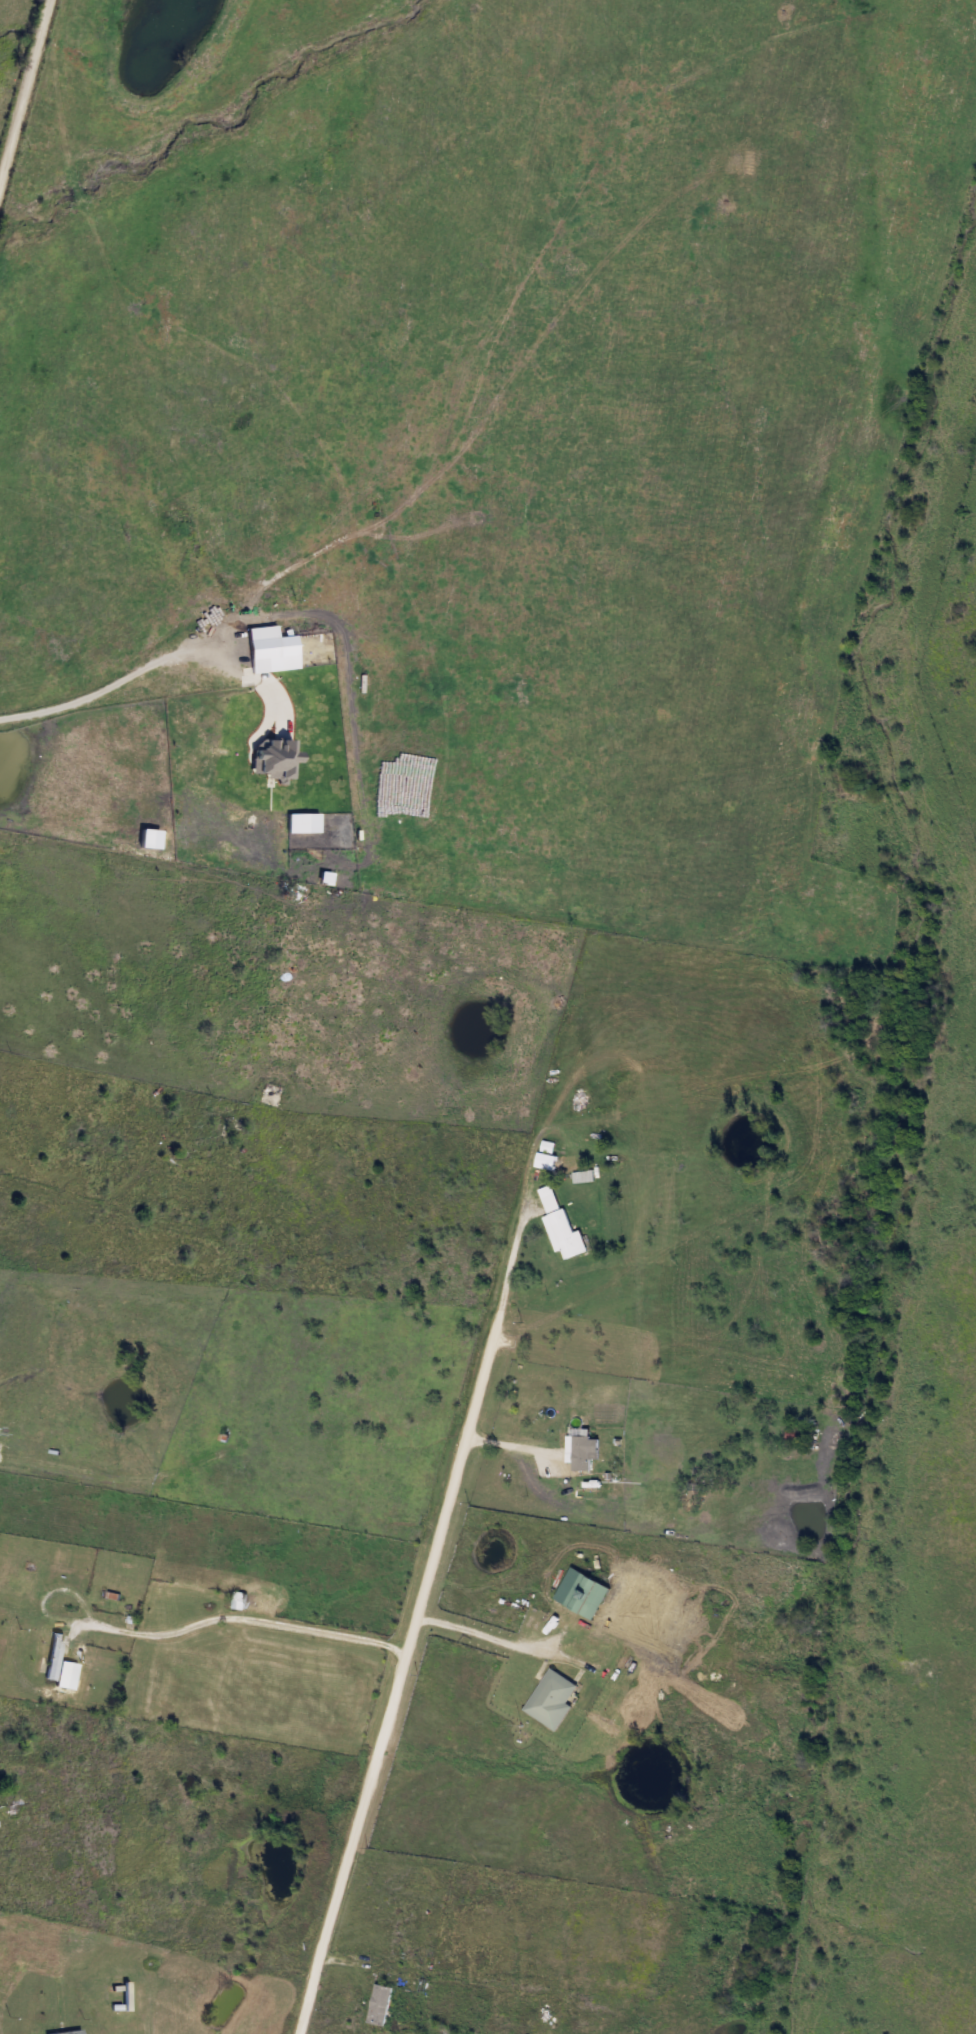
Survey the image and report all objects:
road: (25, 100)
building: (386, 509)
road: (121, 688)
road: (165, 1227)
building: (561, 1227)
building: (798, 1435)
road: (512, 1447)
building: (586, 1452)
road: (44, 1463)
building: (563, 1471)
building: (588, 1597)
building: (245, 1601)
road: (421, 1611)
road: (239, 1617)
road: (498, 1636)
building: (53, 1657)
building: (552, 1700)
building: (2, 1813)
building: (381, 2004)
road: (41, 2030)
building: (444, 2031)
building: (68, 2032)

